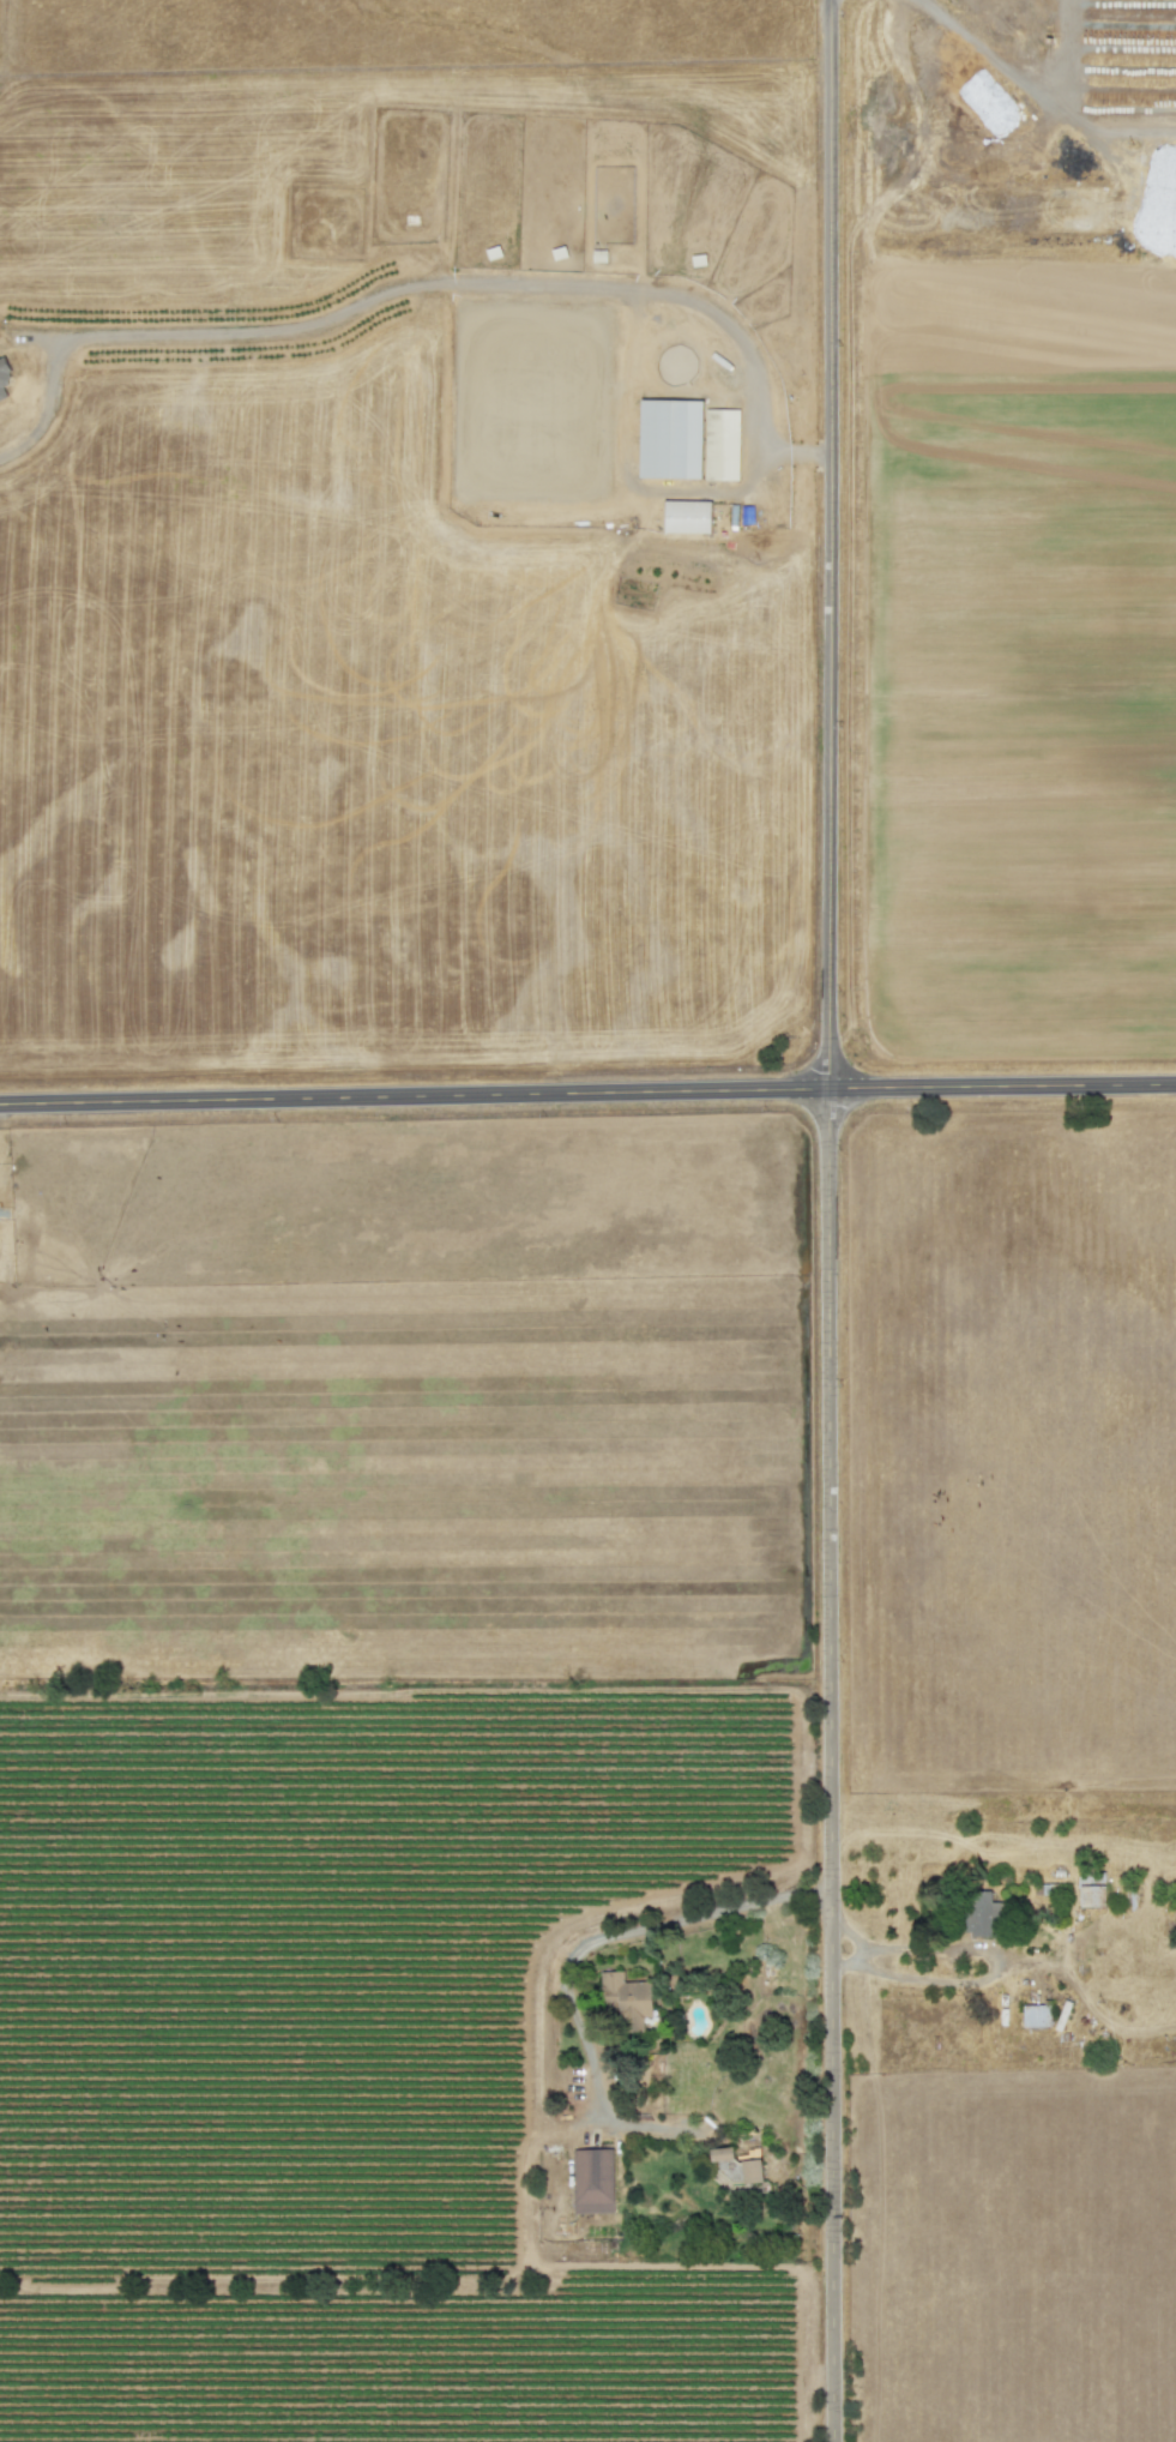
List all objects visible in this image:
road: (1018, 85)
road: (422, 287)
building: (4, 378)
building: (670, 439)
building: (722, 445)
building: (686, 517)
road: (587, 1097)
road: (822, 1220)
building: (1088, 1896)
building: (981, 1914)
road: (855, 1950)
road: (579, 1951)
road: (991, 1962)
building: (626, 1999)
building: (1036, 2016)
building: (722, 2154)
building: (752, 2171)
building: (592, 2182)

